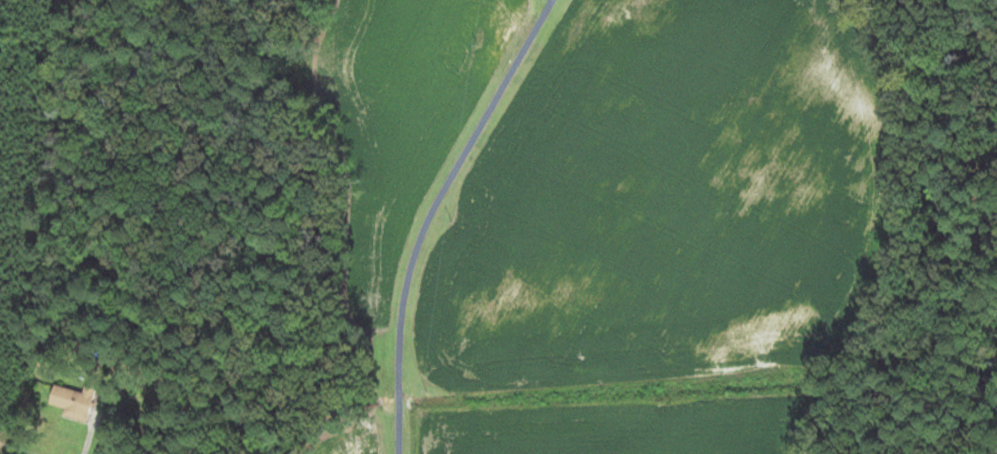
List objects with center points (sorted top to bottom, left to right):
road: (397, 213)
building: (73, 402)

